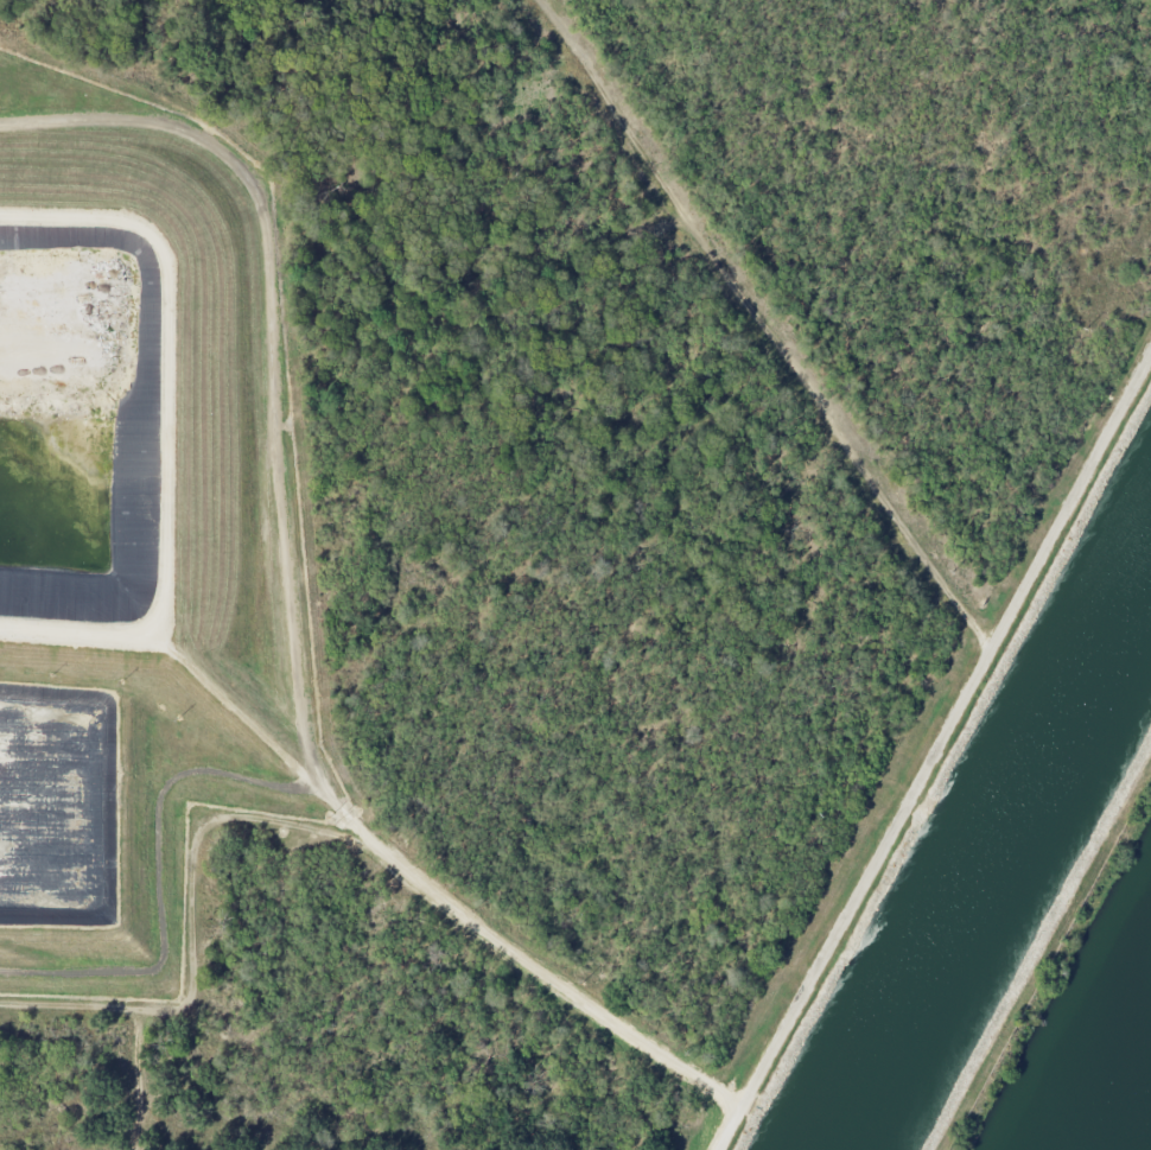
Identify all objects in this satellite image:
road: (763, 325)
road: (288, 617)
road: (934, 751)

